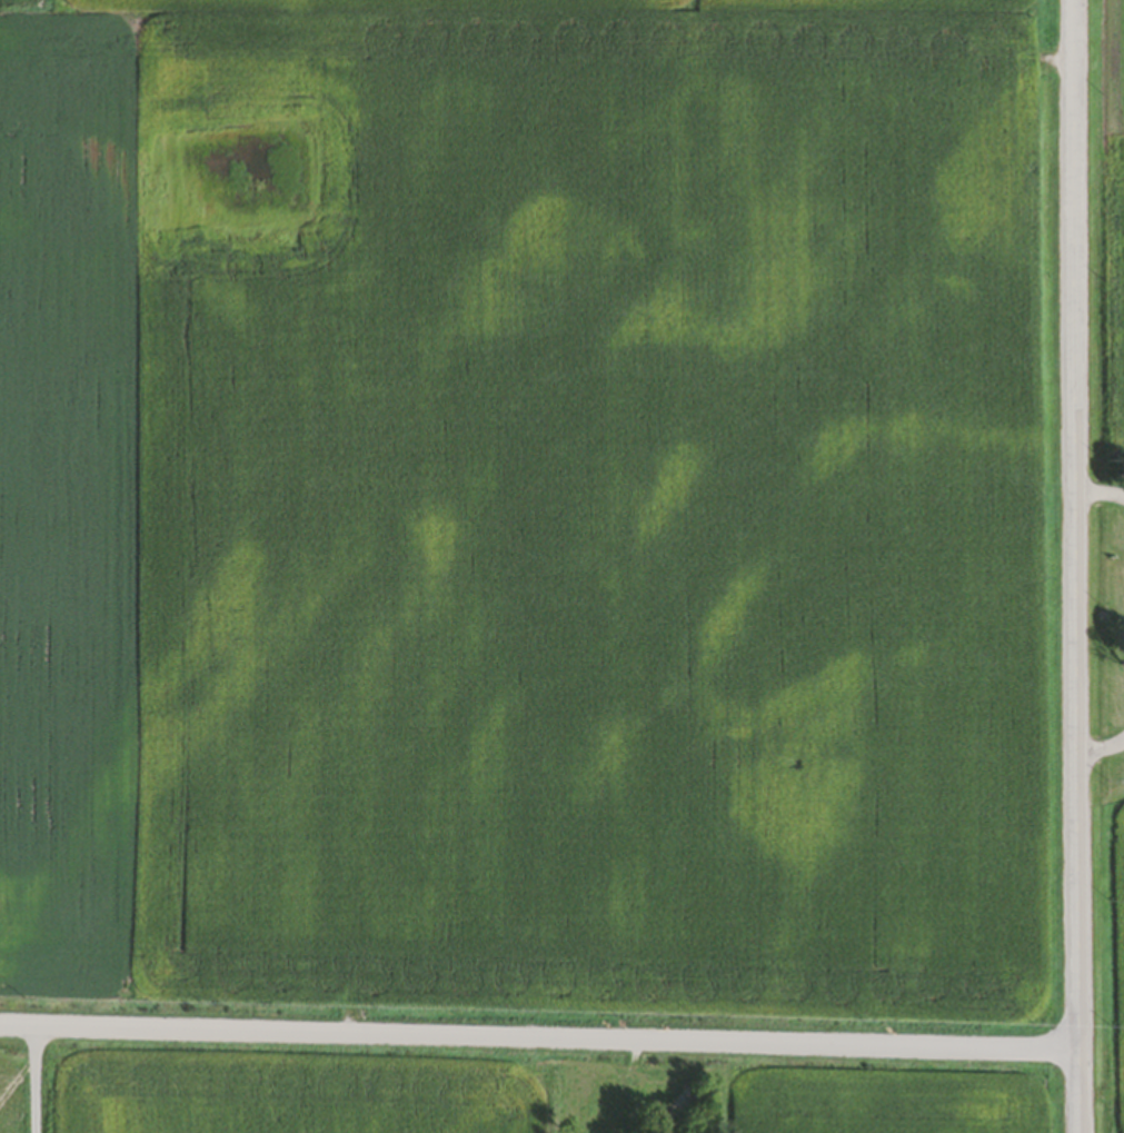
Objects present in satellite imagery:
road: (1100, 491)
road: (1075, 566)
road: (1102, 747)
road: (539, 1037)
road: (36, 1079)

